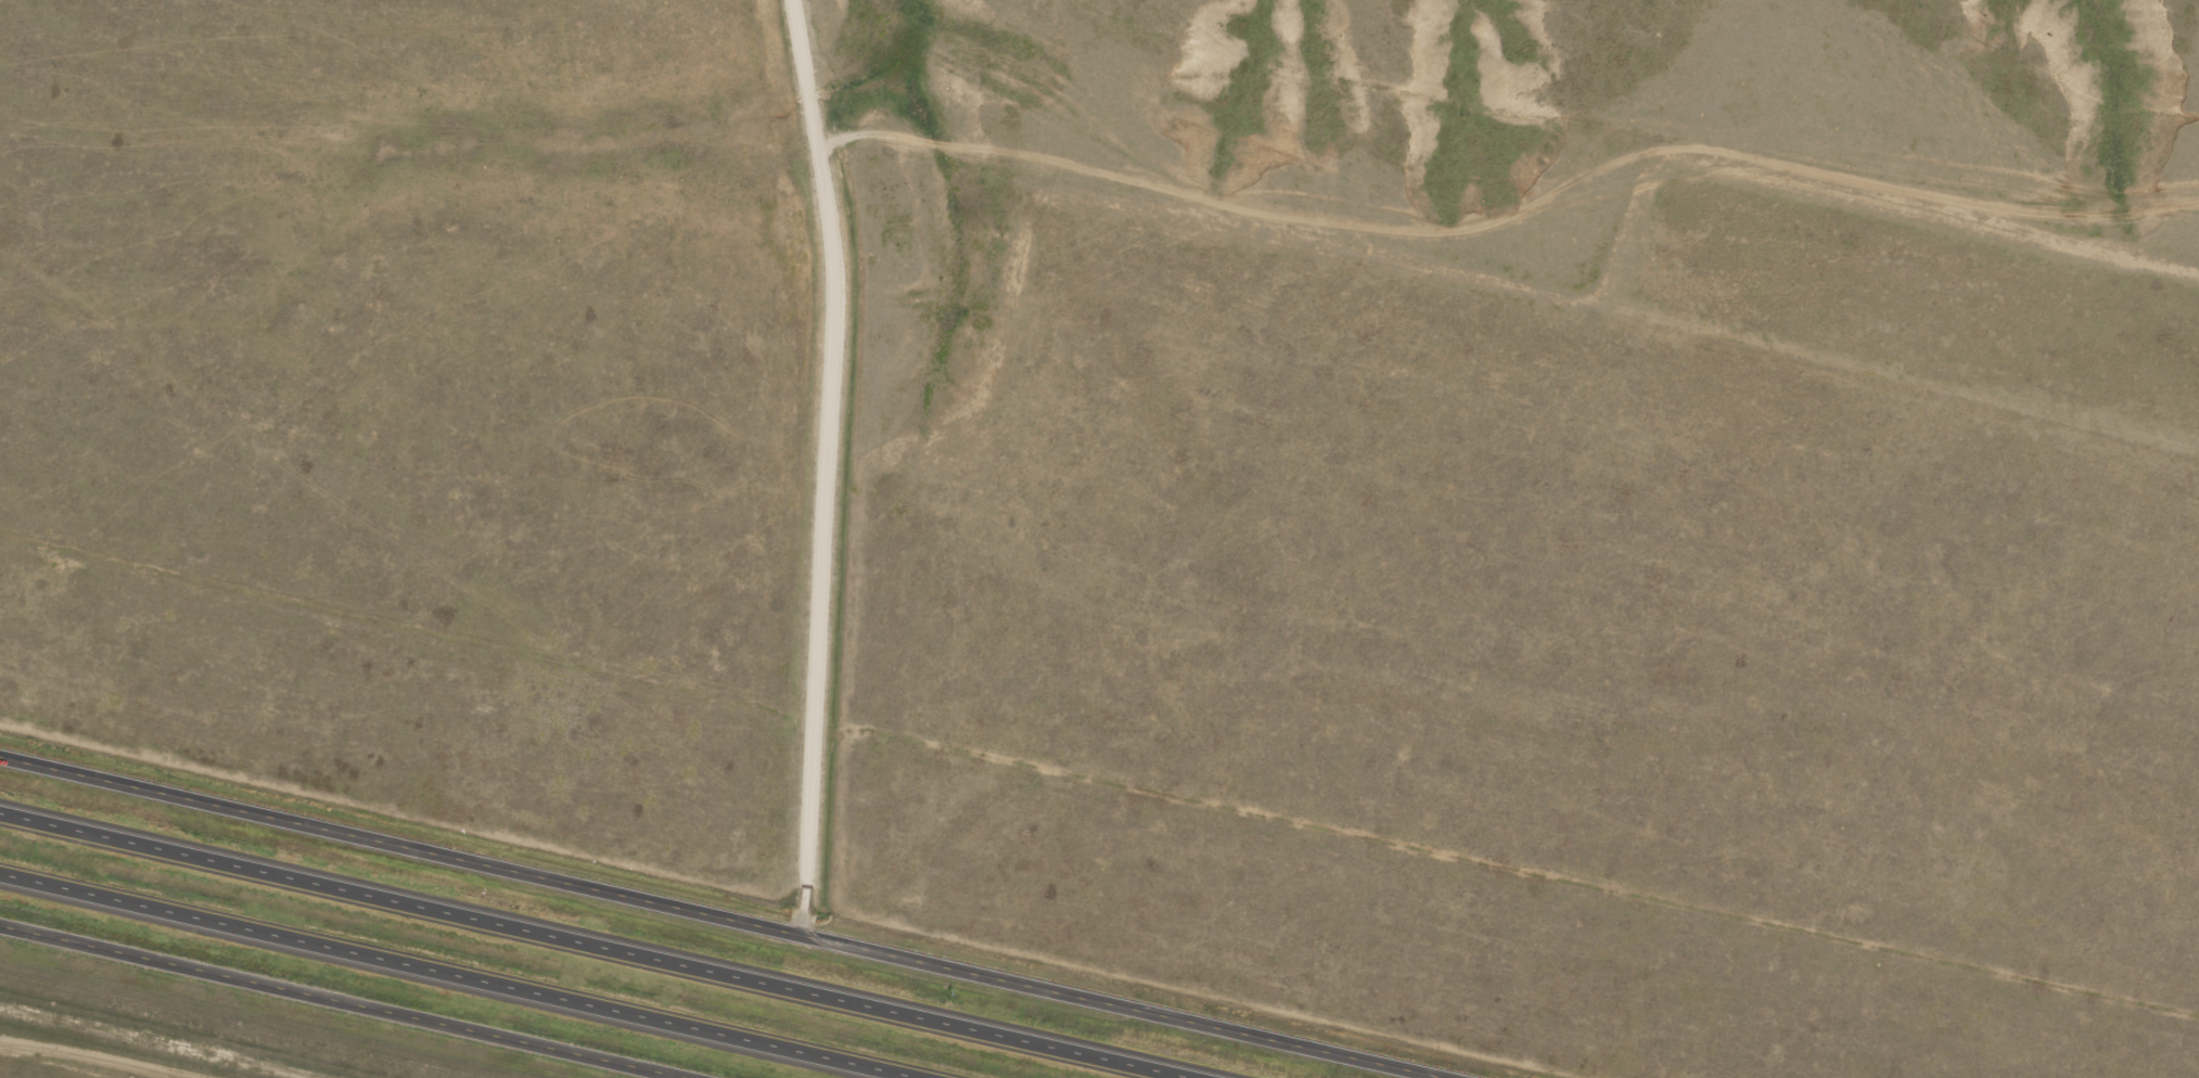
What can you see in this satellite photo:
road: (832, 464)
road: (734, 915)
road: (603, 942)
road: (468, 973)
road: (345, 1000)

